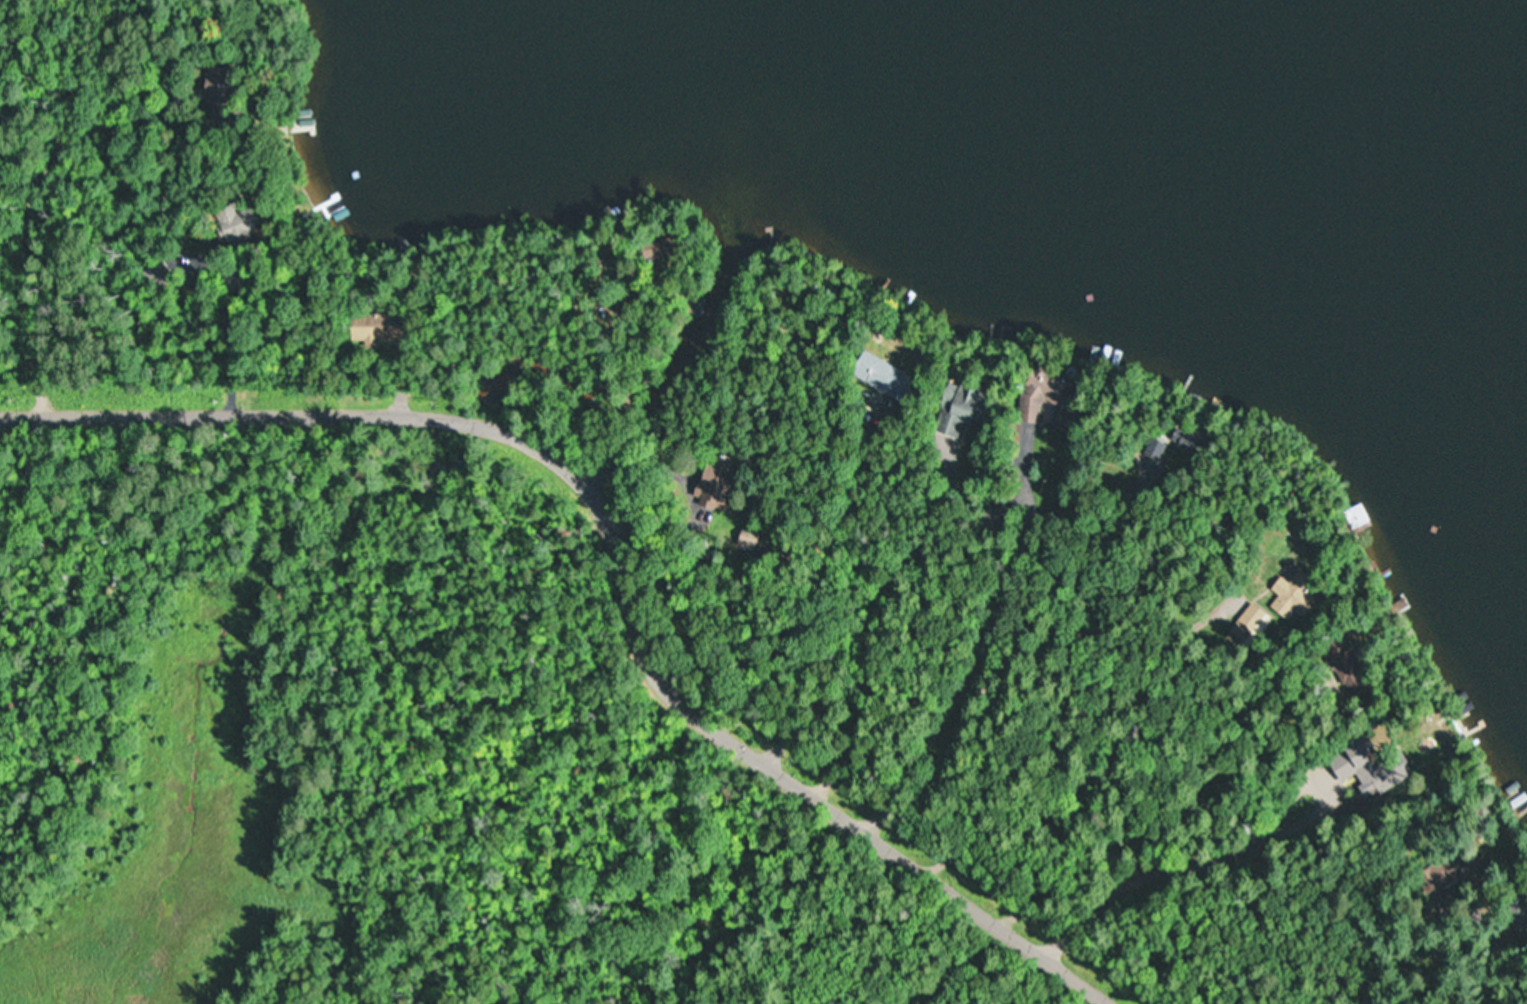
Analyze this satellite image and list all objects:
road: (78, 48)
building: (216, 83)
building: (234, 221)
building: (653, 248)
building: (696, 306)
building: (369, 328)
building: (879, 376)
building: (1037, 395)
building: (954, 408)
building: (1154, 450)
building: (714, 481)
building: (998, 512)
building: (1350, 518)
road: (610, 560)
building: (1283, 593)
road: (989, 606)
building: (1244, 626)
building: (1362, 749)
building: (1380, 778)
building: (1518, 909)

